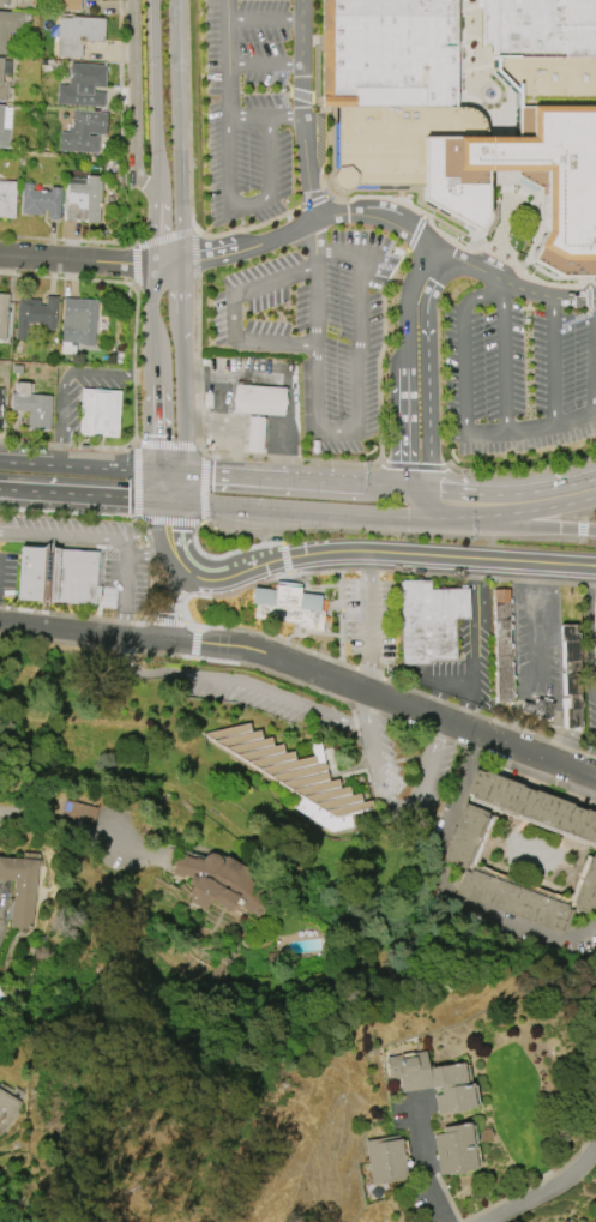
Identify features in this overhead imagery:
building: (4, 2)
building: (67, 5)
road: (471, 7)
road: (264, 16)
building: (11, 25)
building: (77, 34)
road: (471, 37)
road: (478, 38)
road: (306, 41)
road: (313, 41)
road: (323, 41)
road: (323, 49)
road: (324, 50)
road: (227, 56)
road: (264, 61)
road: (474, 66)
road: (317, 67)
road: (281, 76)
building: (0, 78)
road: (458, 78)
road: (480, 79)
road: (499, 80)
building: (83, 85)
building: (390, 85)
road: (301, 94)
road: (314, 95)
road: (133, 98)
road: (155, 101)
road: (315, 101)
road: (330, 101)
road: (281, 103)
parking lot: (246, 107)
road: (302, 109)
road: (506, 113)
road: (264, 115)
building: (4, 124)
road: (121, 124)
road: (313, 128)
road: (332, 128)
building: (534, 128)
building: (83, 131)
road: (175, 131)
road: (335, 146)
road: (505, 155)
road: (189, 170)
road: (506, 179)
road: (332, 182)
road: (542, 182)
road: (321, 188)
road: (377, 188)
road: (524, 188)
road: (341, 189)
road: (399, 191)
road: (341, 192)
road: (374, 197)
road: (512, 197)
building: (7, 198)
road: (338, 199)
road: (399, 199)
building: (83, 200)
building: (38, 201)
road: (247, 201)
road: (311, 203)
road: (490, 205)
road: (530, 206)
road: (375, 215)
road: (447, 217)
road: (502, 223)
road: (446, 224)
road: (150, 231)
road: (540, 233)
road: (313, 234)
road: (414, 234)
road: (164, 237)
road: (477, 237)
road: (64, 240)
road: (536, 241)
road: (120, 242)
road: (247, 245)
road: (457, 245)
road: (478, 247)
road: (194, 252)
road: (73, 259)
road: (163, 263)
road: (136, 264)
road: (67, 278)
road: (542, 282)
road: (510, 285)
road: (591, 287)
road: (409, 293)
road: (504, 293)
road: (588, 297)
road: (591, 311)
road: (230, 312)
building: (2, 314)
building: (35, 314)
road: (180, 318)
road: (150, 320)
road: (572, 320)
building: (78, 321)
parking lot: (315, 326)
road: (463, 343)
road: (379, 351)
road: (594, 355)
road: (553, 360)
road: (195, 361)
road: (133, 363)
parking lot: (516, 363)
road: (504, 366)
road: (65, 374)
road: (236, 375)
road: (427, 375)
building: (258, 399)
gas station: (258, 399)
building: (0, 401)
building: (31, 405)
building: (98, 413)
road: (183, 422)
road: (155, 423)
road: (356, 423)
road: (407, 425)
road: (550, 425)
road: (201, 428)
road: (287, 428)
road: (225, 432)
road: (484, 432)
building: (254, 434)
road: (167, 444)
road: (68, 446)
road: (228, 453)
road: (287, 459)
road: (79, 465)
road: (413, 466)
road: (522, 469)
traffic signals: (159, 471)
road: (170, 471)
traffic signals: (182, 472)
road: (233, 476)
road: (137, 480)
road: (354, 483)
road: (164, 486)
road: (176, 486)
road: (203, 487)
road: (85, 494)
traffic signals: (170, 500)
traffic signals: (420, 501)
road: (429, 501)
road: (518, 501)
road: (299, 510)
road: (68, 511)
road: (589, 514)
road: (169, 518)
road: (516, 524)
road: (301, 525)
road: (171, 526)
road: (233, 528)
road: (580, 528)
road: (67, 535)
road: (422, 535)
road: (265, 536)
road: (152, 553)
road: (216, 553)
road: (387, 553)
road: (180, 562)
building: (56, 576)
road: (126, 592)
road: (169, 602)
road: (179, 604)
building: (287, 604)
road: (195, 614)
building: (594, 614)
building: (428, 620)
road: (133, 622)
road: (368, 622)
road: (536, 624)
road: (82, 628)
building: (502, 645)
building: (594, 652)
road: (475, 656)
road: (209, 660)
building: (568, 676)
road: (239, 681)
road: (383, 700)
road: (433, 700)
road: (466, 708)
building: (537, 709)
building: (295, 777)
road: (386, 799)
building: (532, 806)
building: (82, 813)
road: (58, 818)
building: (215, 881)
building: (19, 889)
building: (586, 889)
road: (451, 890)
building: (513, 901)
building: (433, 1080)
building: (6, 1109)
building: (453, 1149)
building: (385, 1160)
road: (429, 1167)
road: (548, 1191)
building: (562, 1221)

